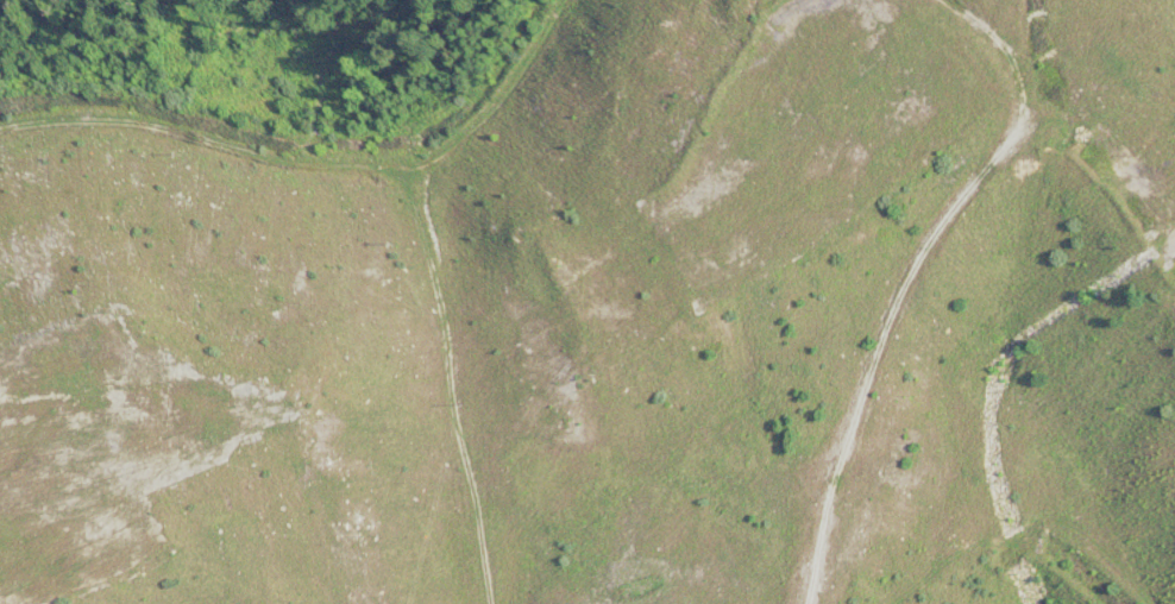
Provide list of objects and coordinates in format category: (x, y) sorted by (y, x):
quarry: (609, 317)

